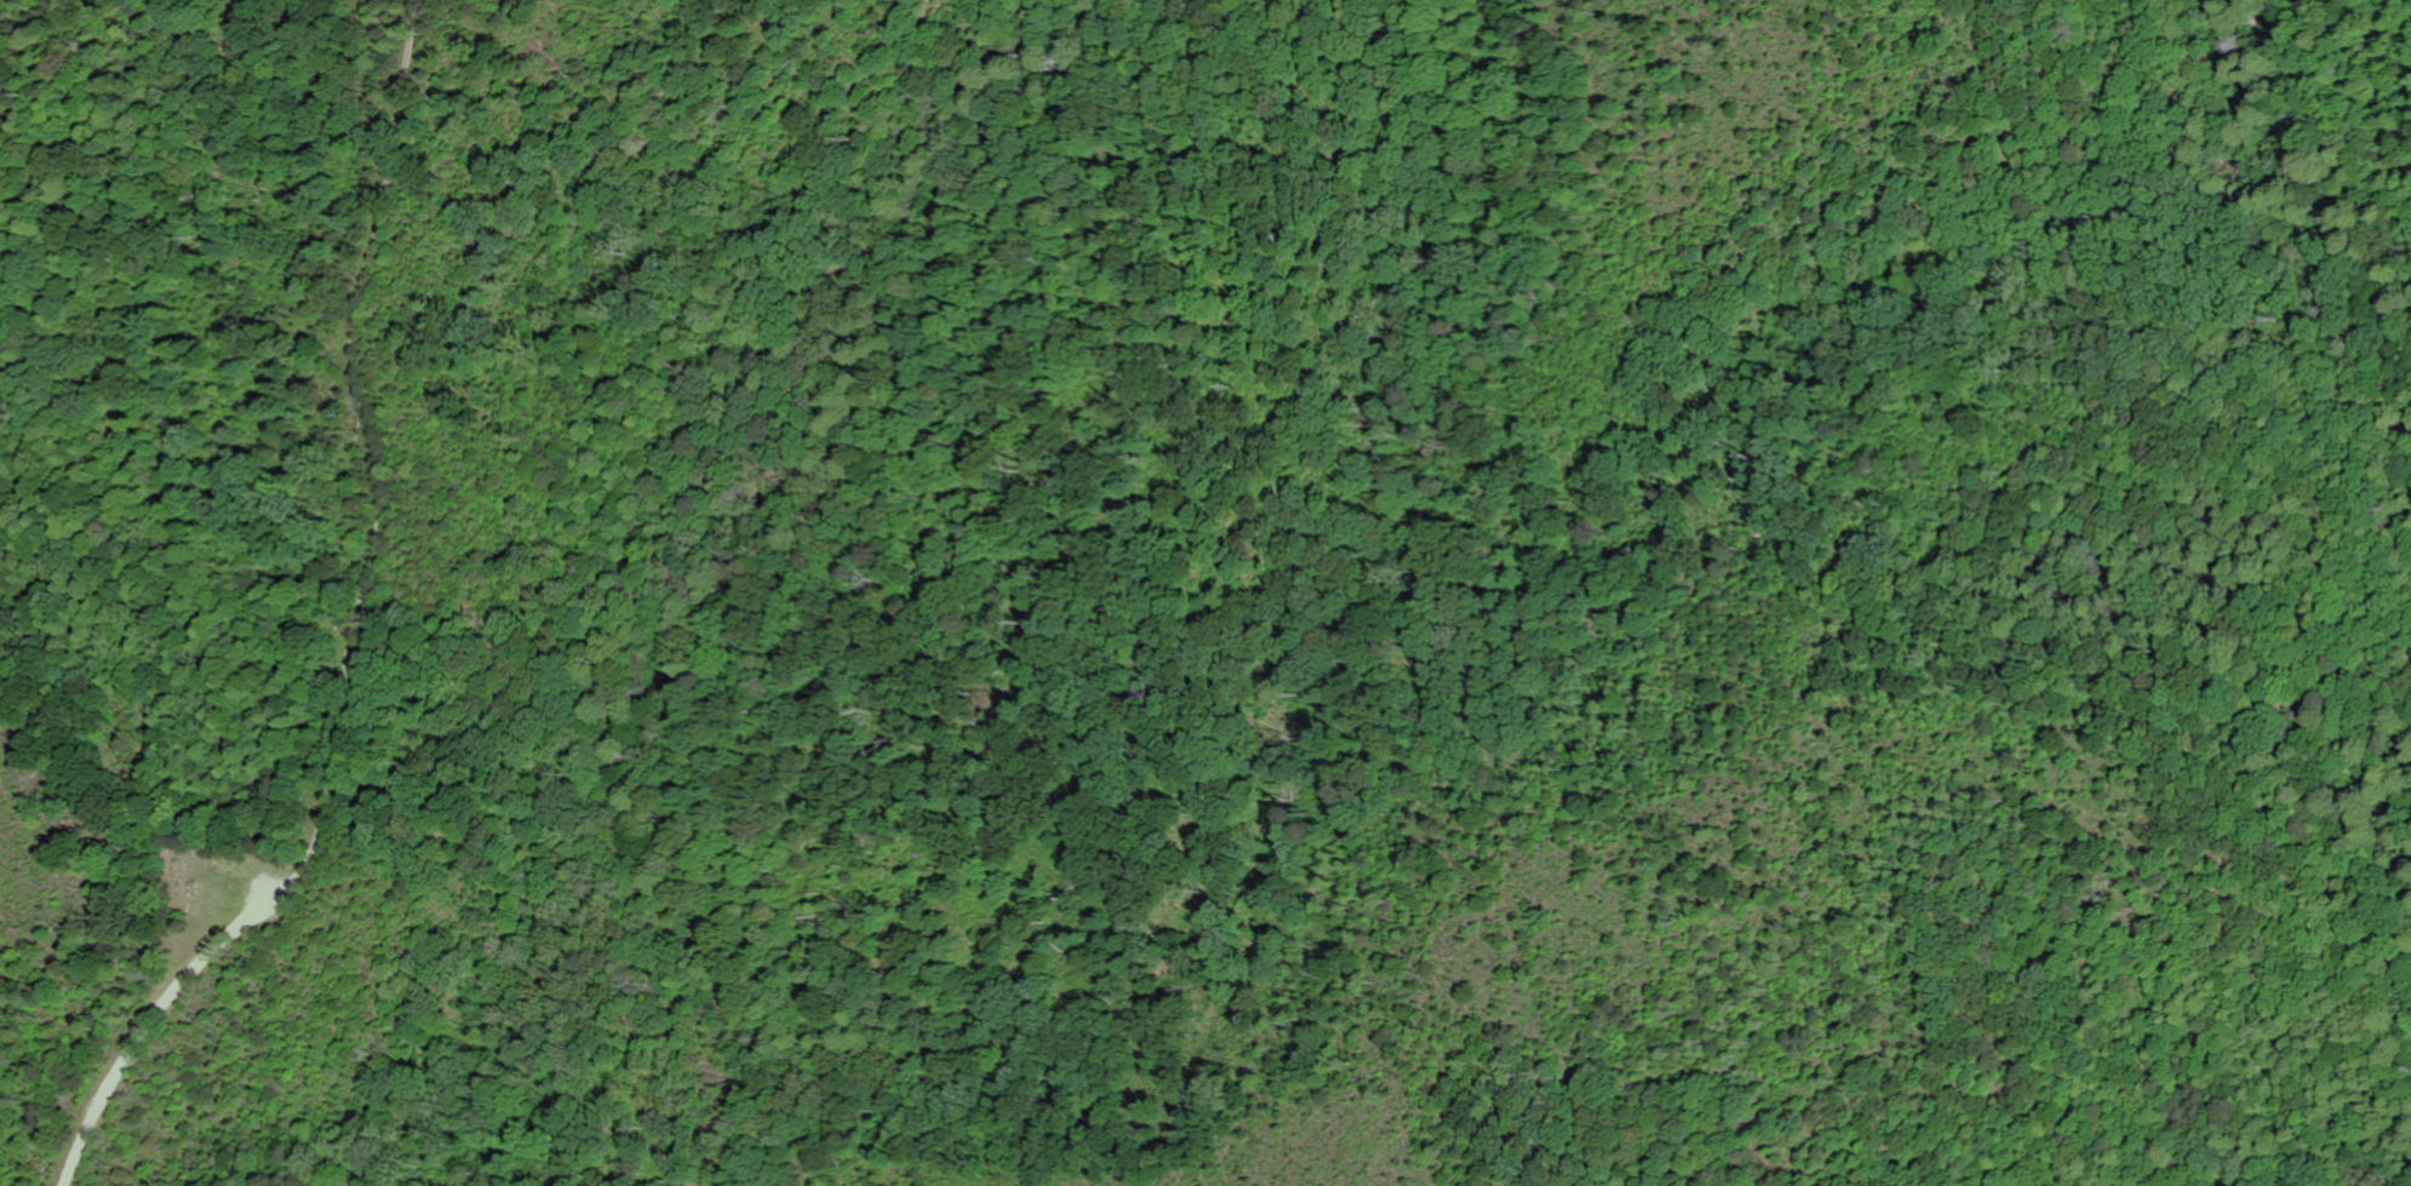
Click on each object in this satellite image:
road: (357, 634)
park: (201, 877)

